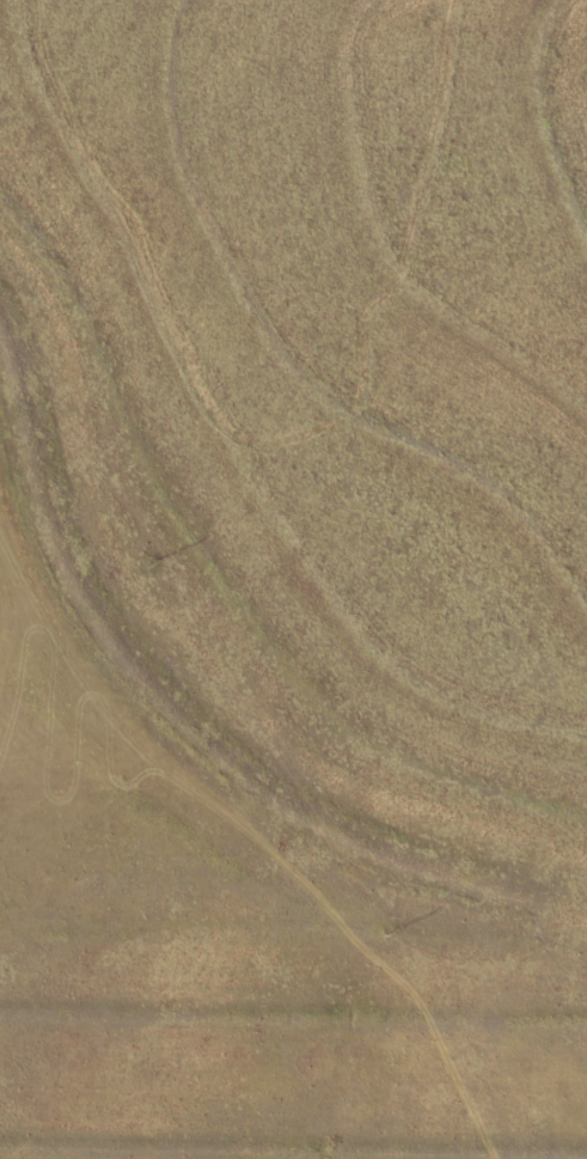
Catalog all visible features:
road: (293, 311)
power tower: (154, 565)
power tower: (392, 933)

